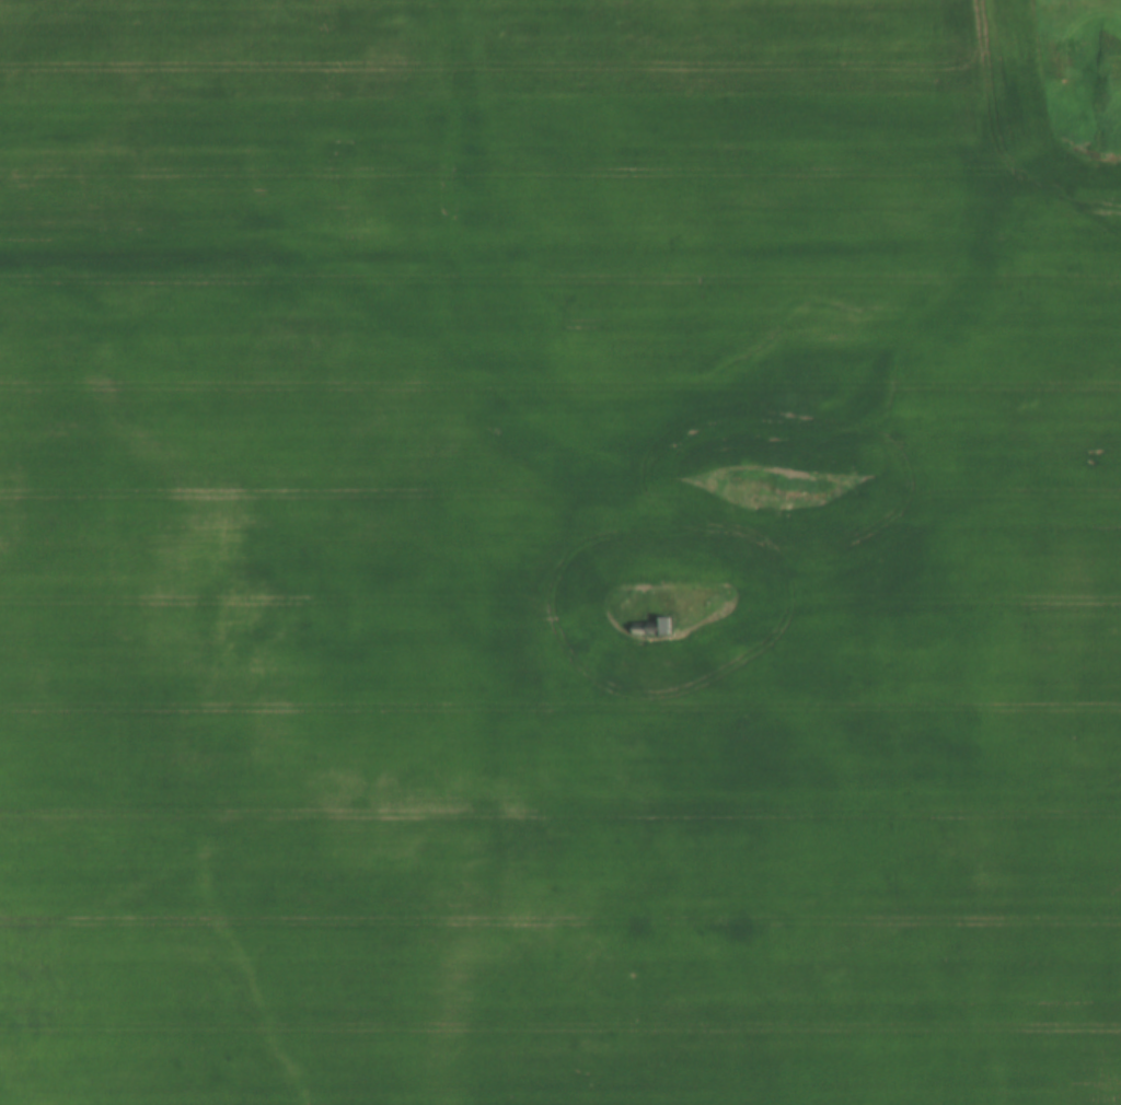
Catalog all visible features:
building: (651, 630)

